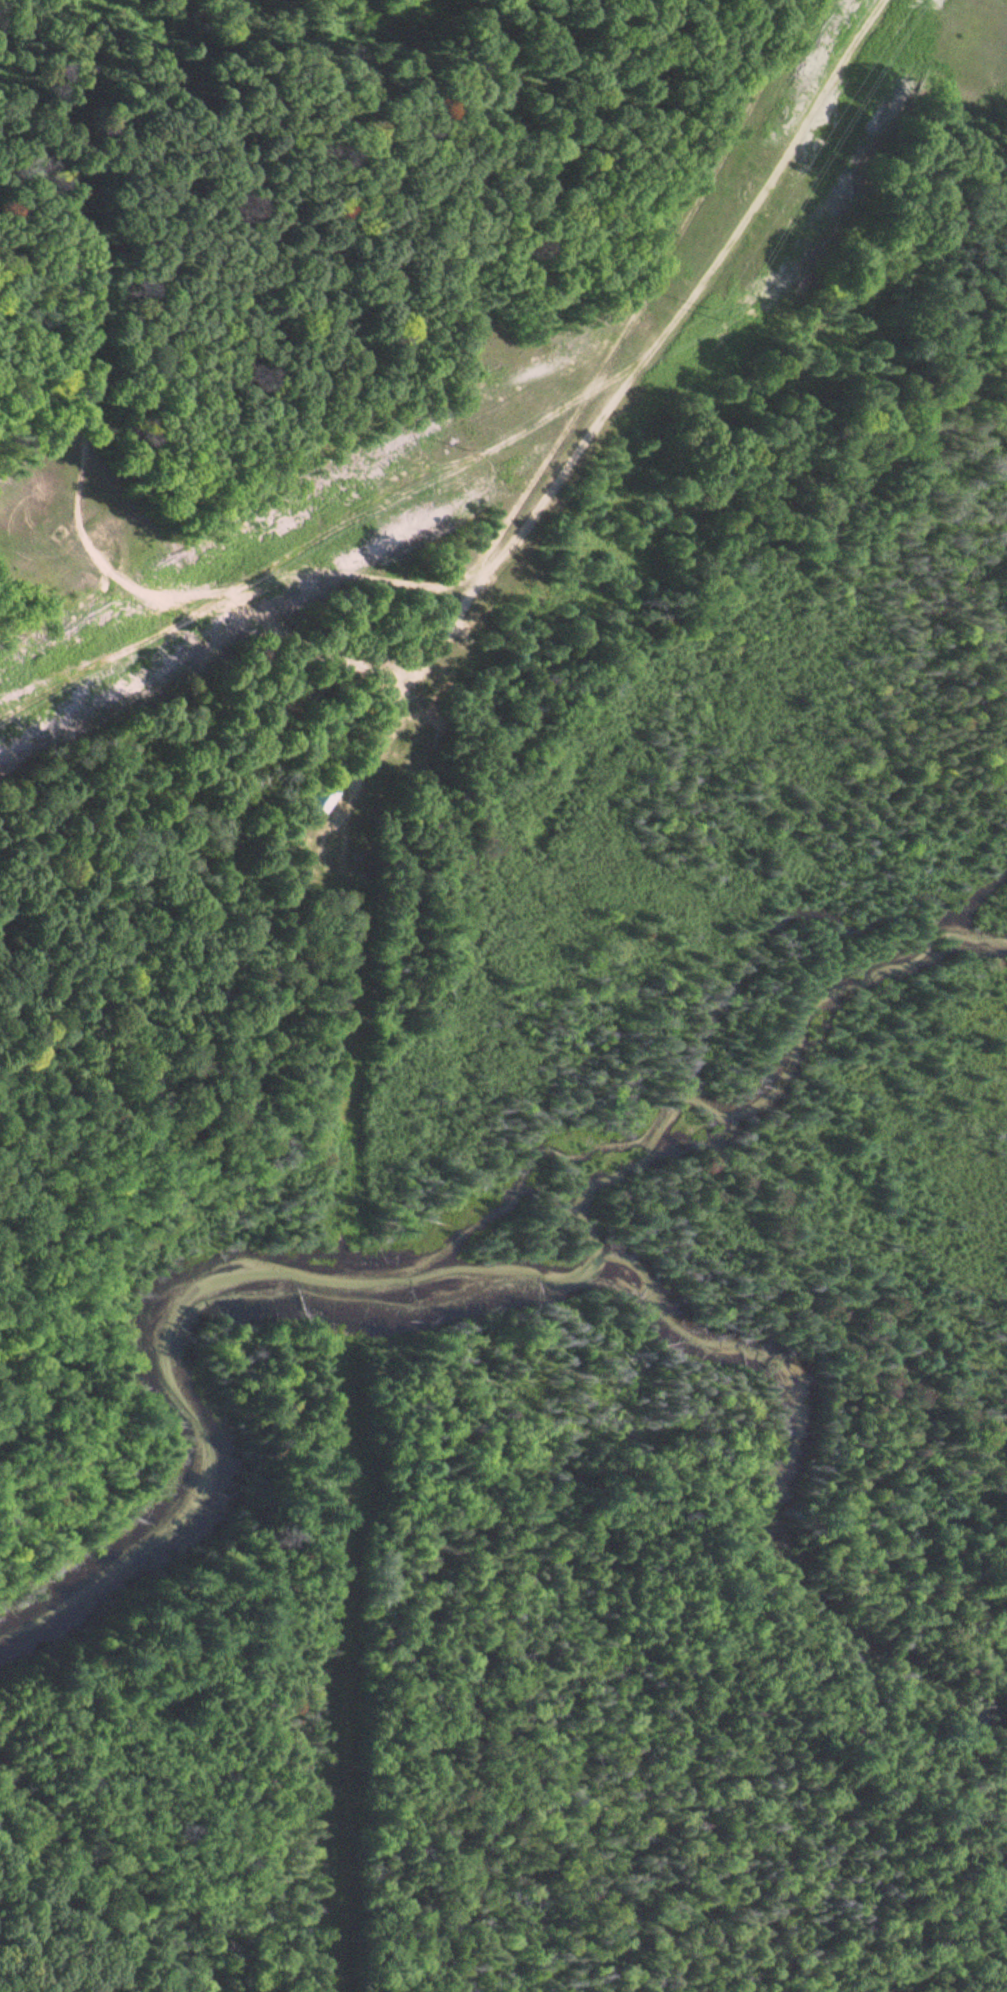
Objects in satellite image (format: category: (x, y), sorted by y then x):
road: (469, 573)
building: (329, 797)
river: (422, 1284)

